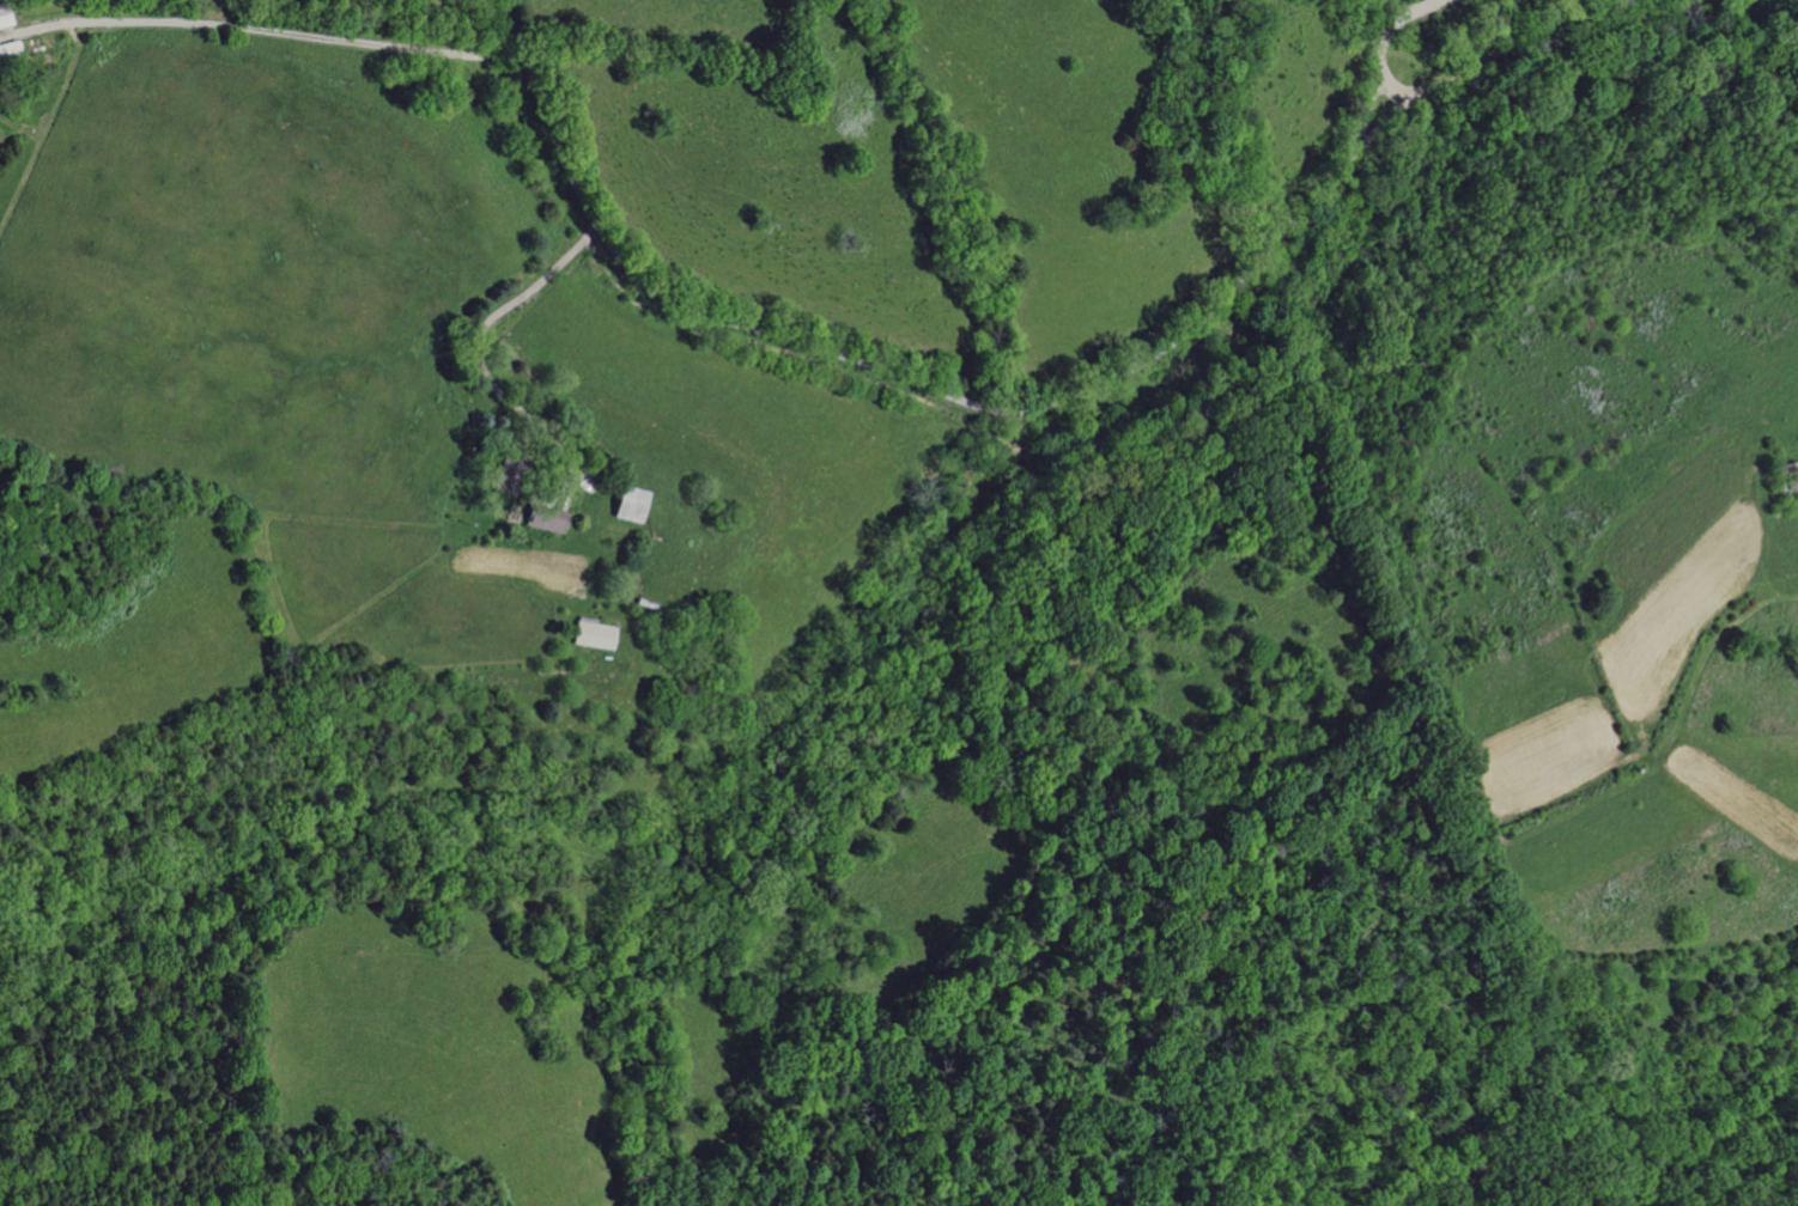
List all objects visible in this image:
building: (4, 16)
road: (260, 28)
road: (1381, 53)
road: (1569, 62)
road: (486, 327)
road: (893, 374)
building: (628, 504)
building: (546, 519)
building: (594, 634)

